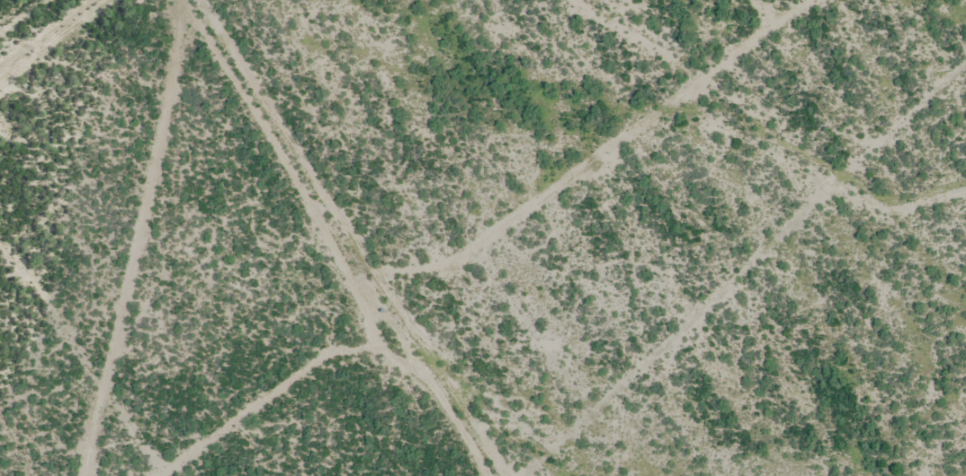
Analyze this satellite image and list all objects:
road: (32, 394)

